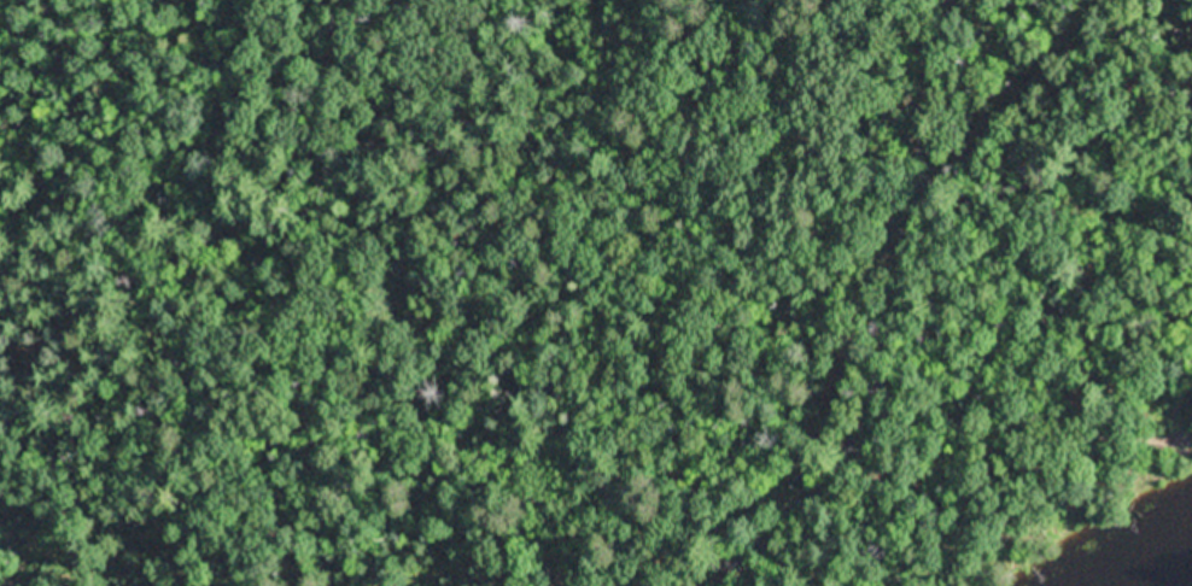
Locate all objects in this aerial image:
road: (888, 342)
river: (1168, 569)

